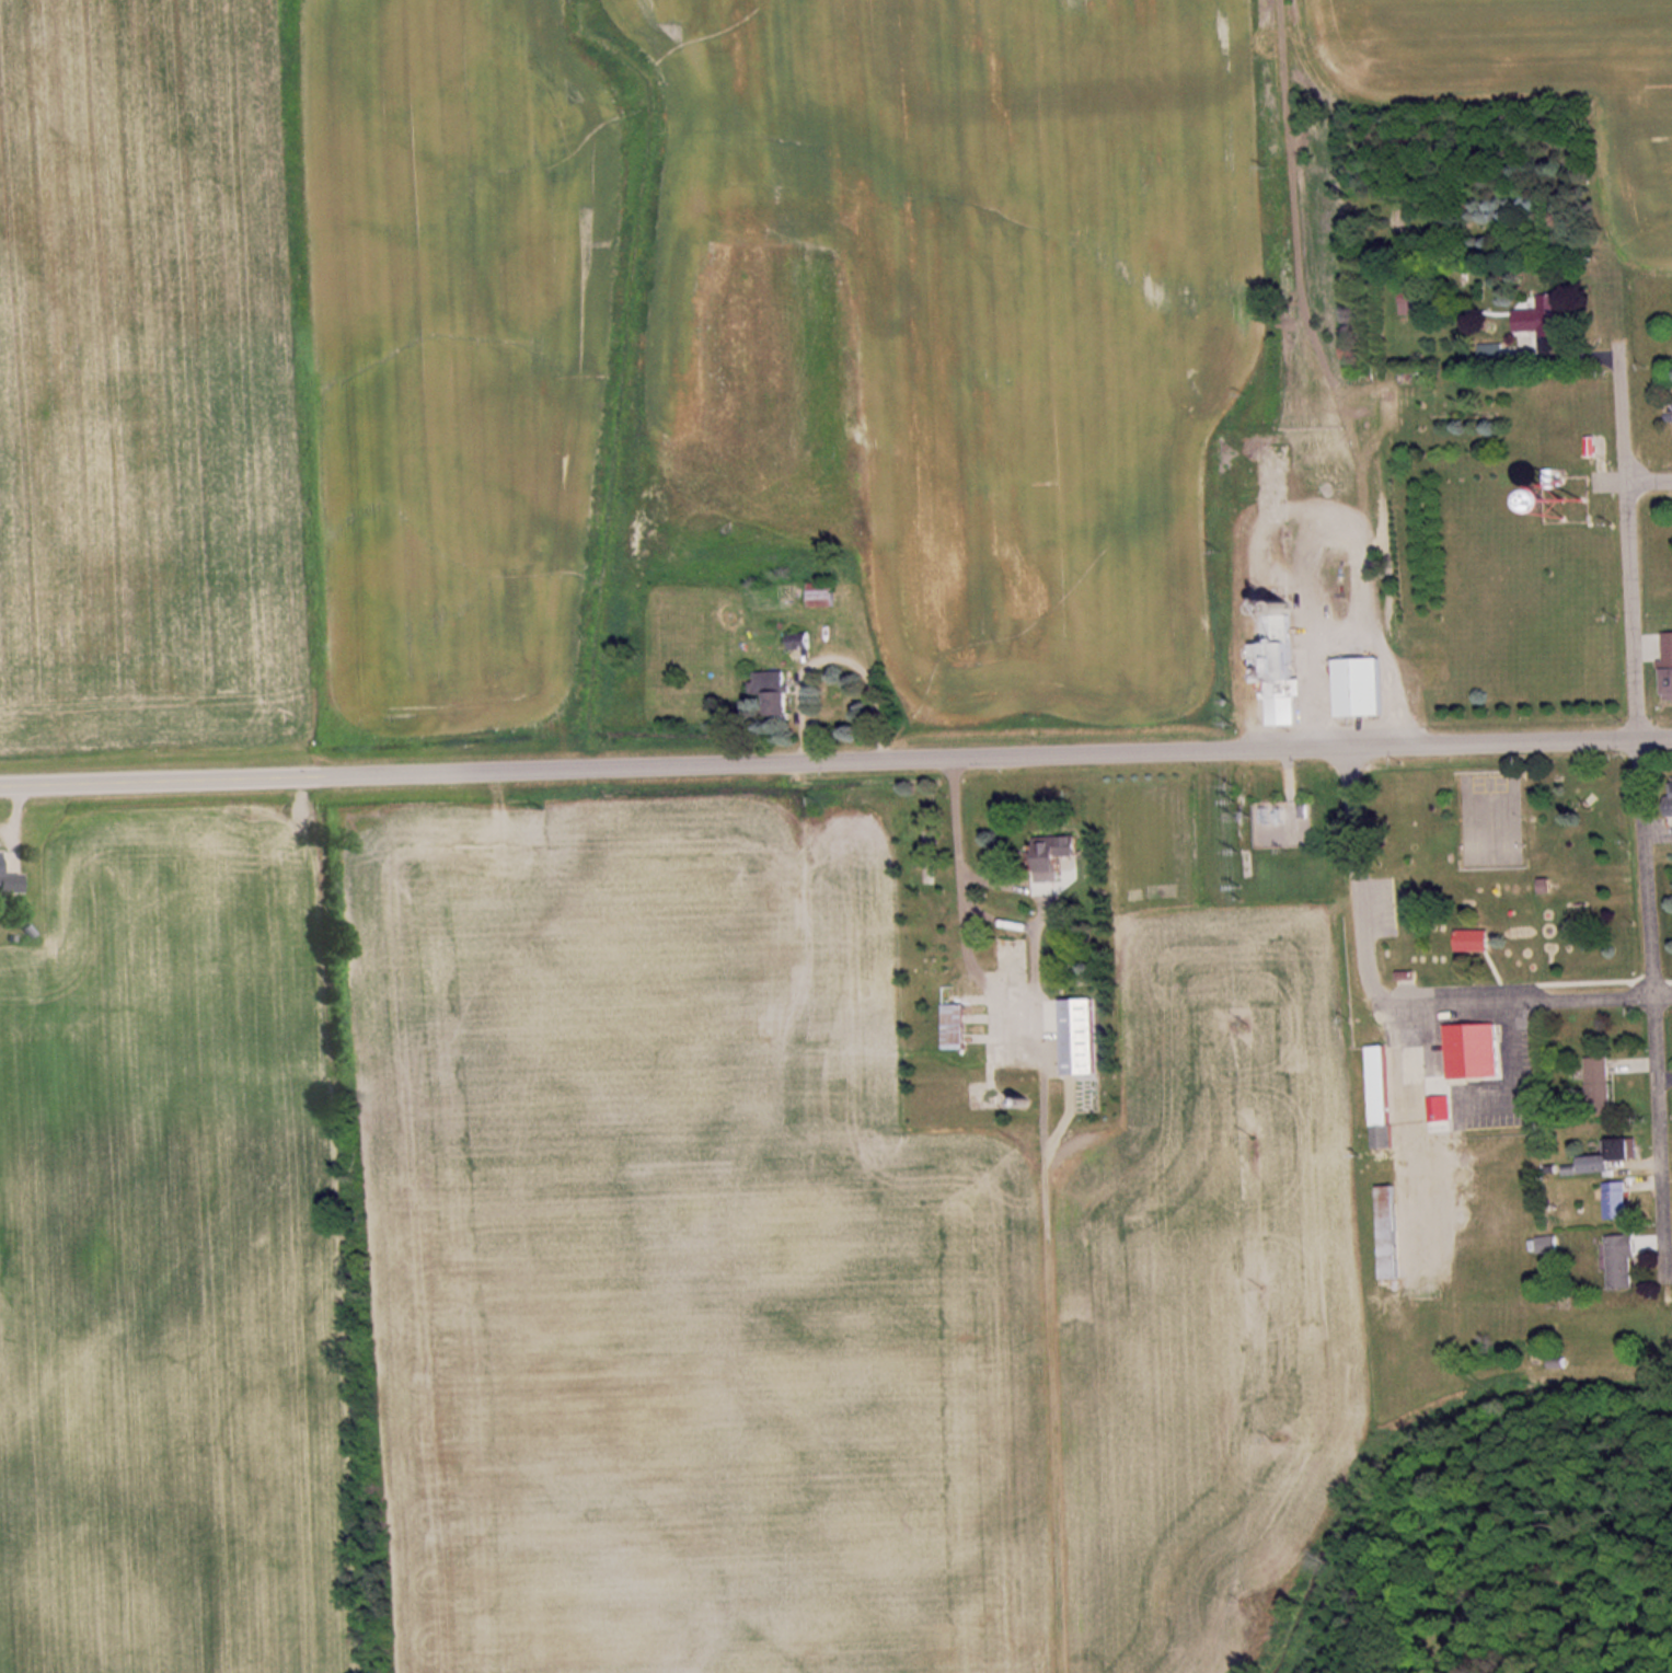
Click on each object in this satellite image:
building: (1545, 316)
road: (1649, 489)
building: (1588, 497)
building: (1281, 664)
building: (1668, 666)
building: (1361, 688)
building: (774, 693)
road: (956, 763)
road: (119, 788)
building: (1671, 797)
power substation: (1281, 823)
road: (1642, 824)
building: (1056, 852)
road: (1356, 879)
building: (11, 884)
building: (1473, 942)
road: (1526, 1002)
building: (967, 1027)
building: (1081, 1037)
building: (1475, 1052)
building: (1600, 1087)
building: (1382, 1098)
building: (1613, 1156)
building: (1619, 1201)
building: (1392, 1234)
building: (1626, 1262)

